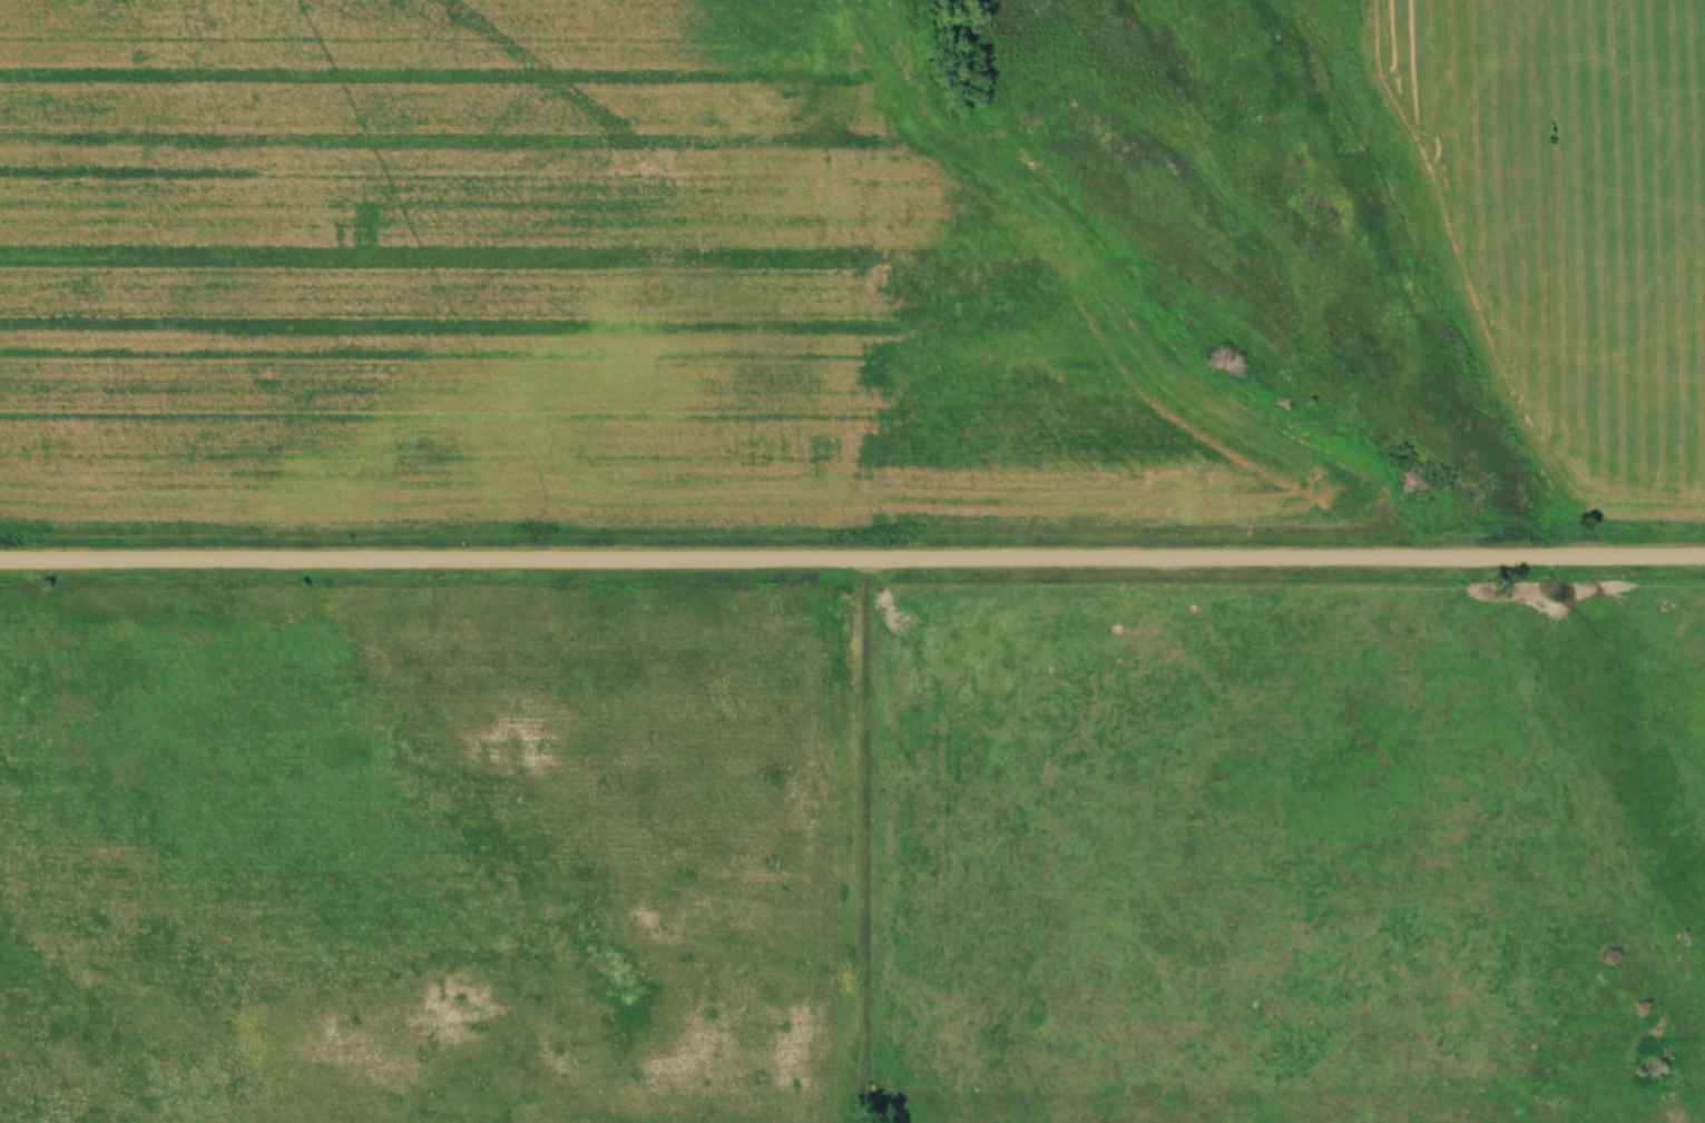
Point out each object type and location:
road: (852, 565)

